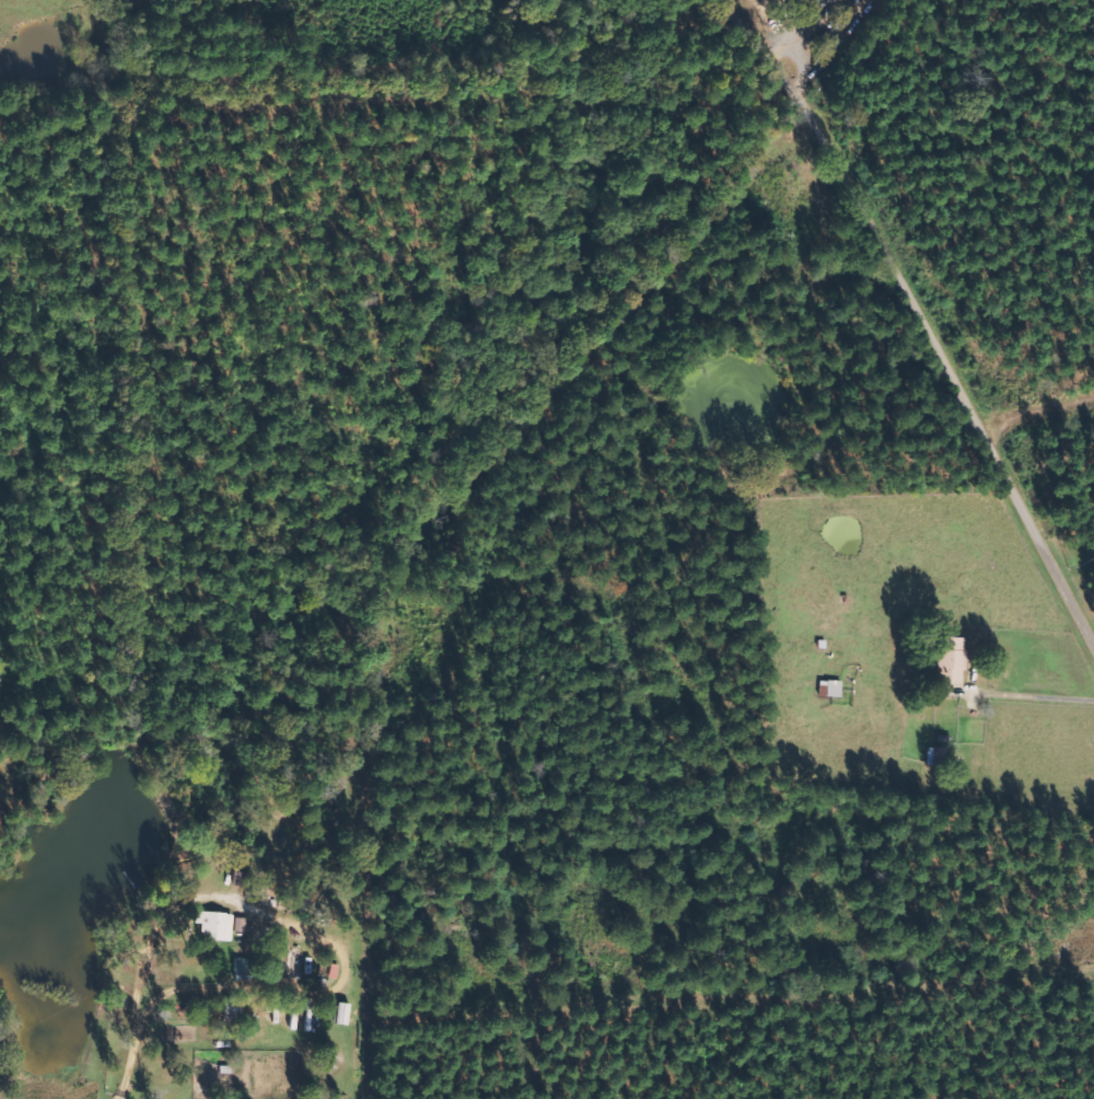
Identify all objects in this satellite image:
road: (922, 309)
building: (946, 660)
building: (211, 925)

